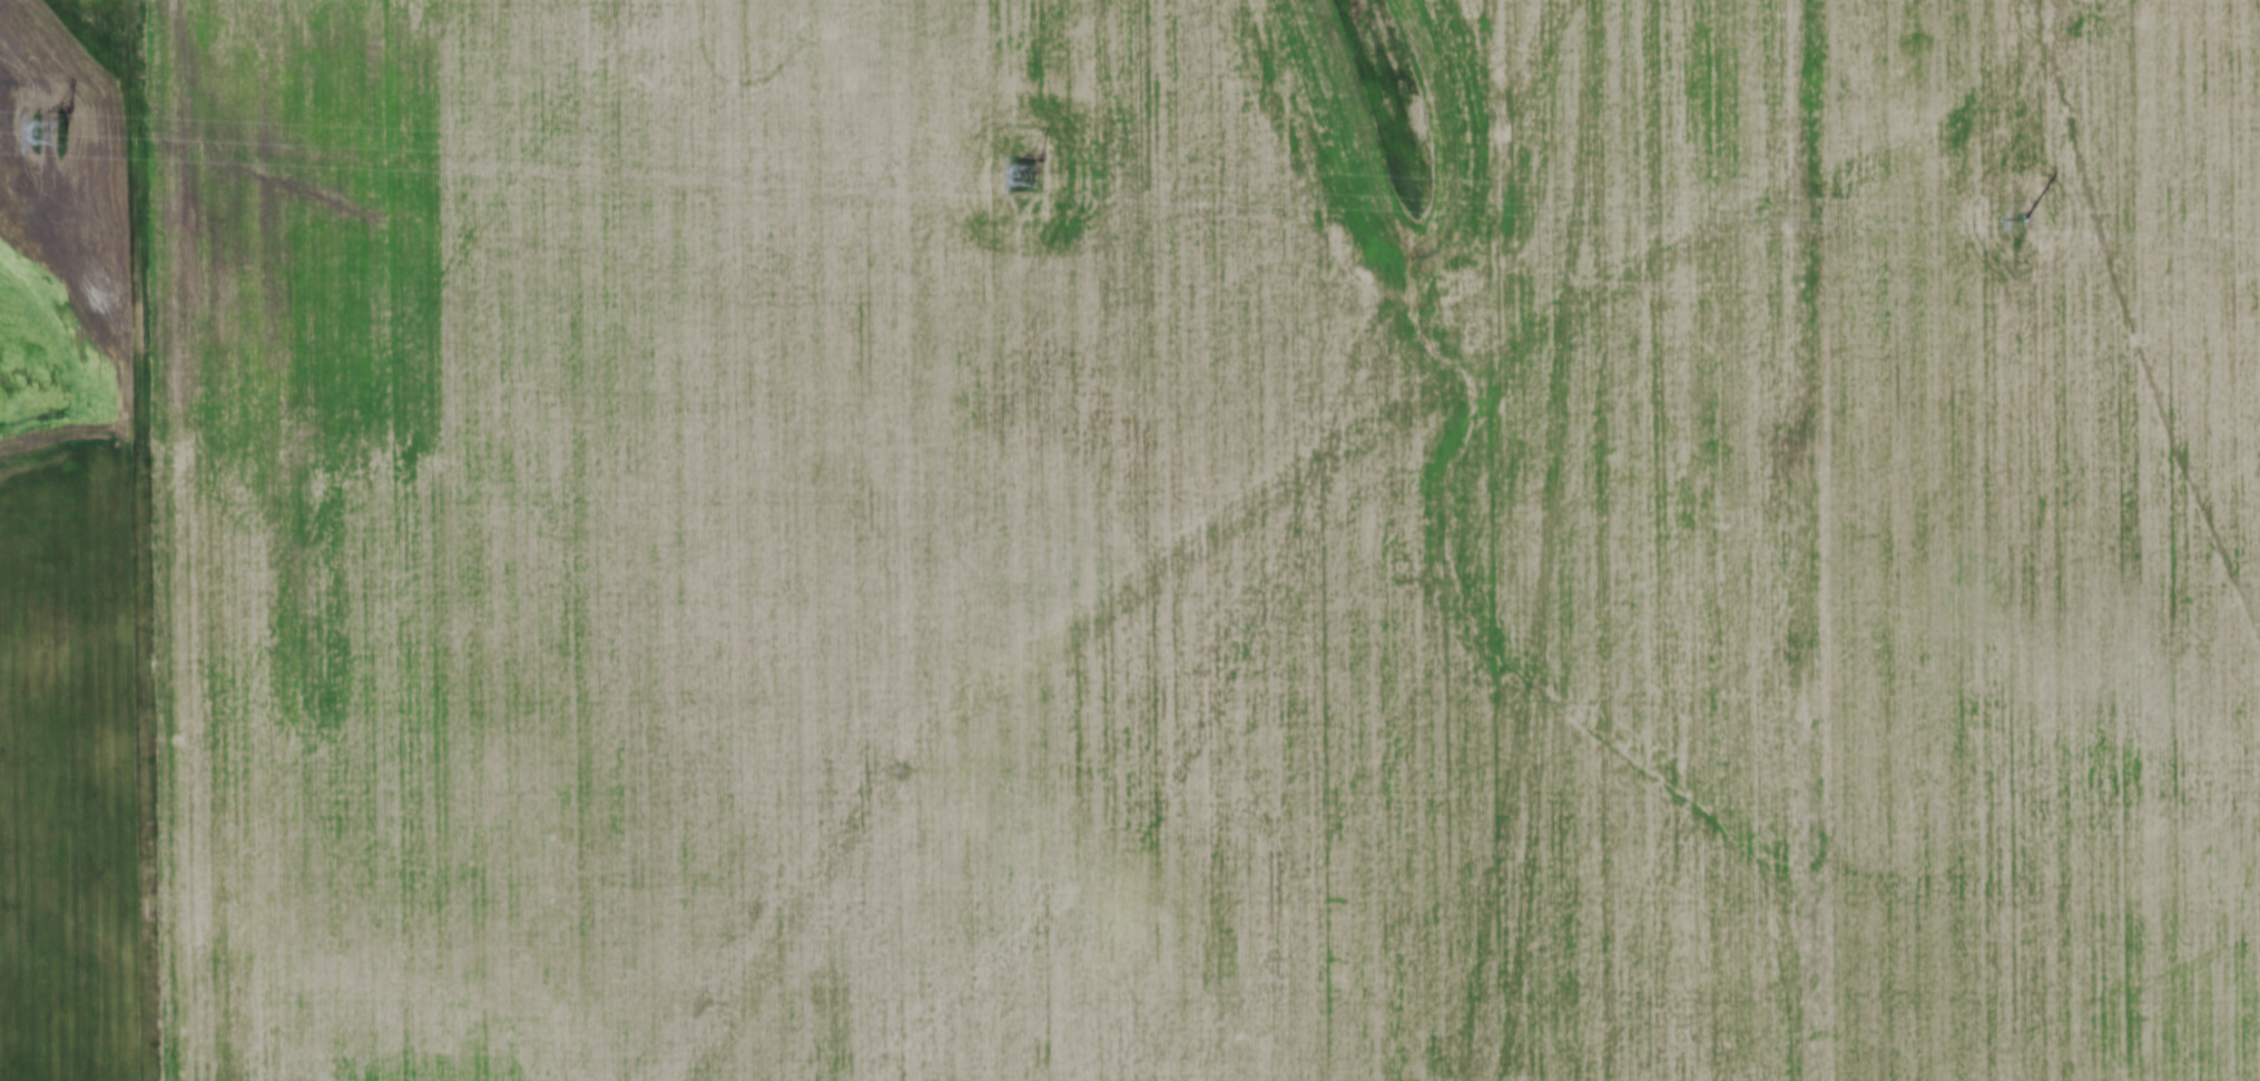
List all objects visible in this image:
power tower: (63, 126)
power tower: (1041, 135)
power tower: (2010, 184)
road: (150, 540)

